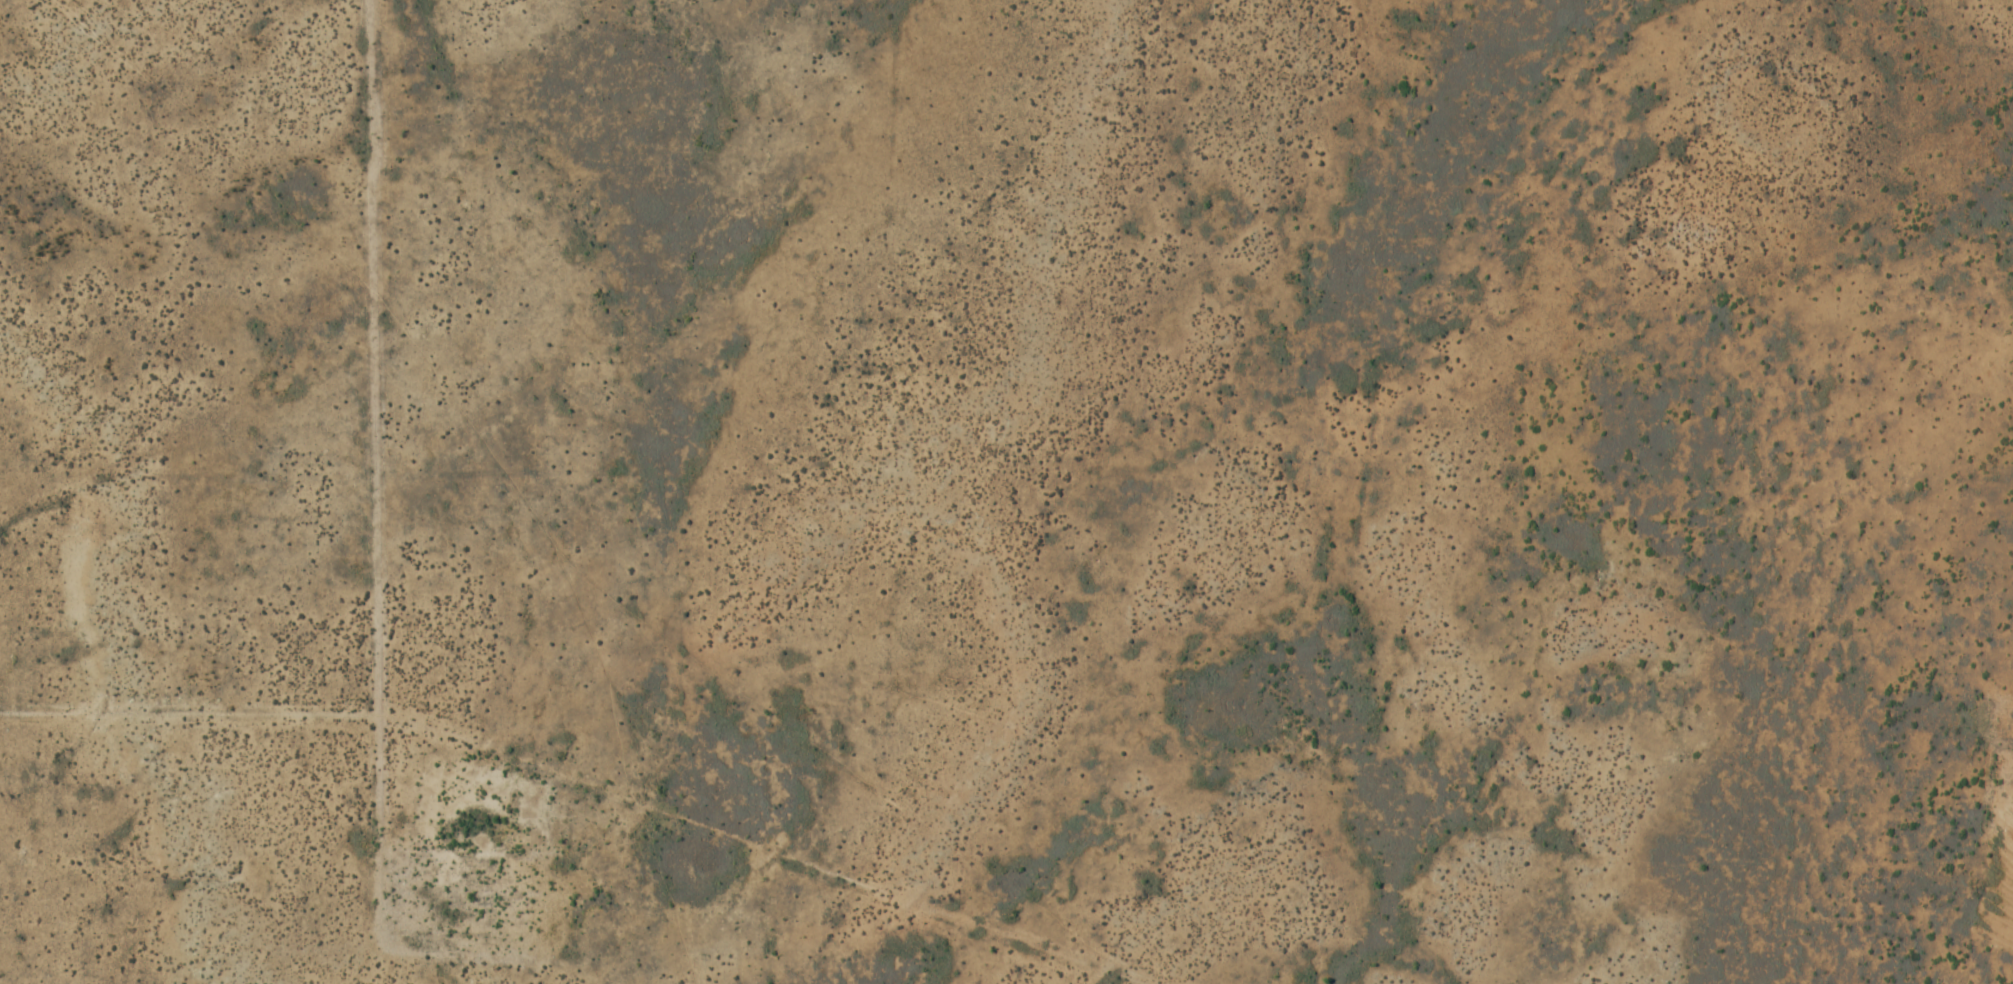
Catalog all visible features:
road: (384, 448)

